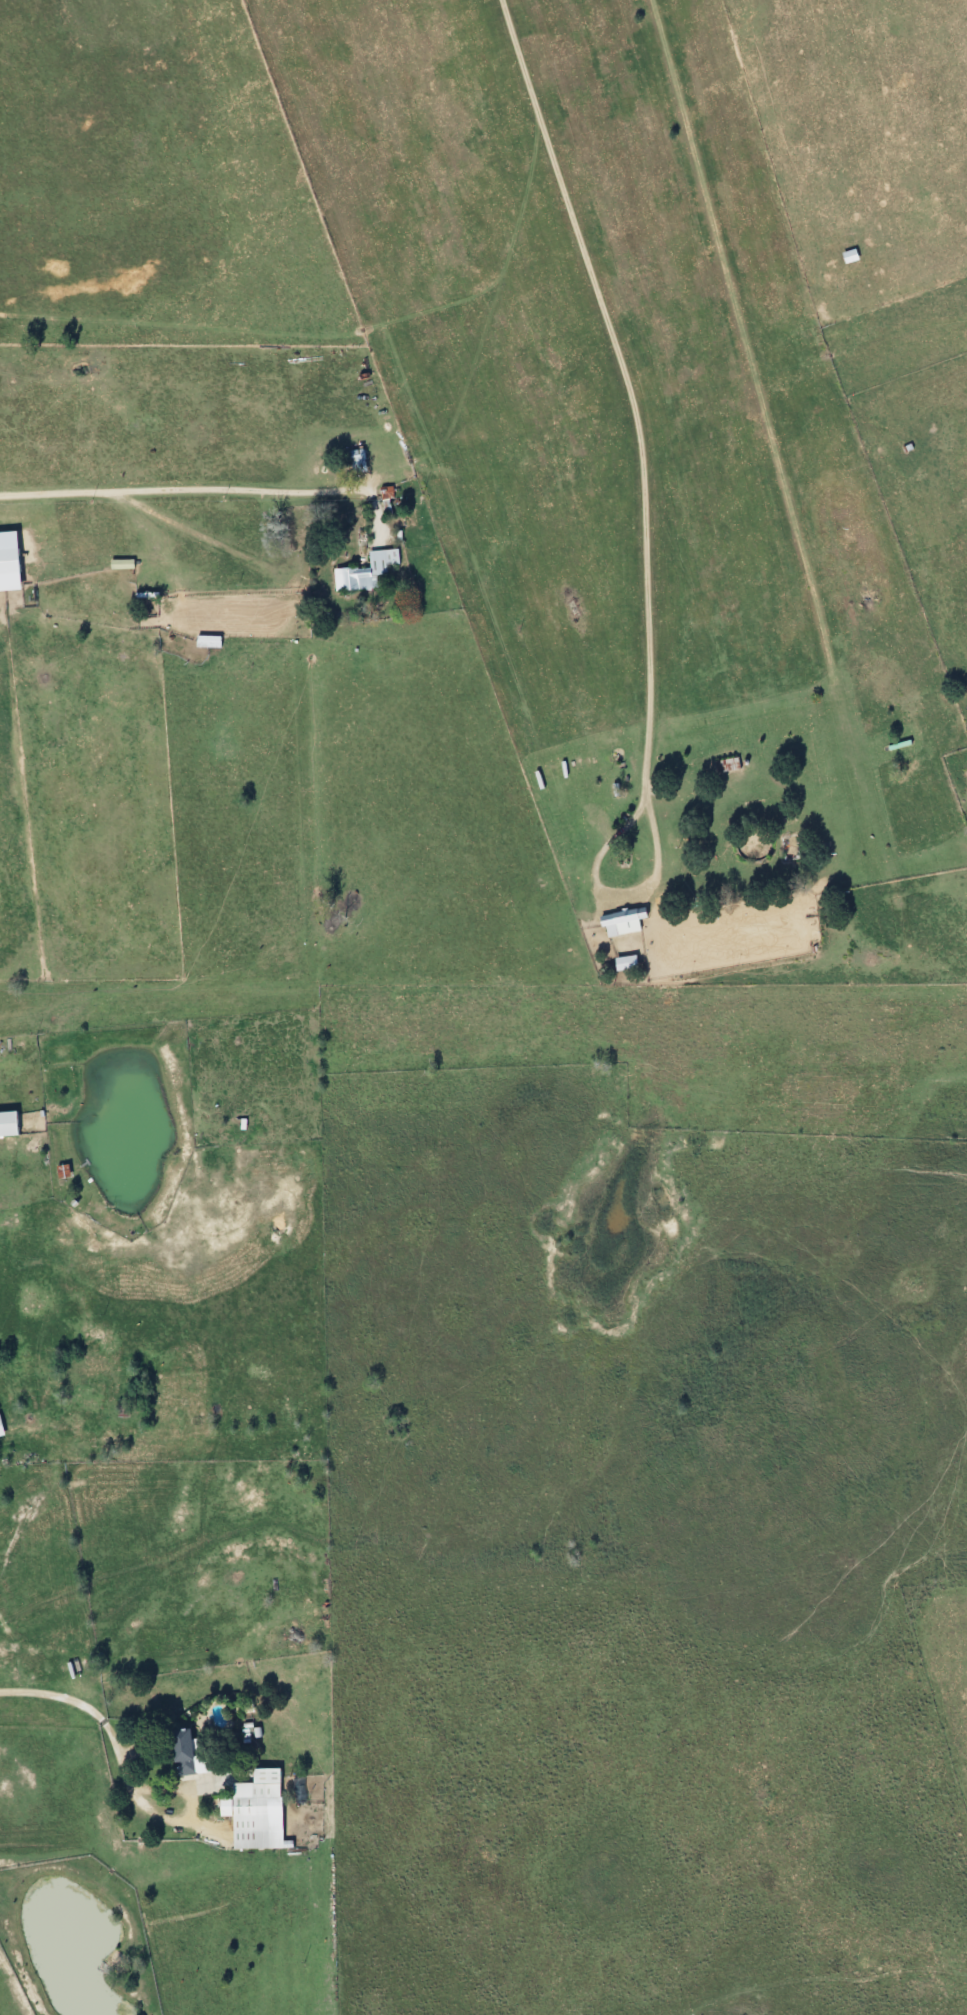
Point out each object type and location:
building: (845, 256)
road: (625, 385)
building: (353, 460)
road: (183, 489)
building: (362, 570)
building: (204, 640)
building: (79, 641)
building: (724, 764)
road: (612, 890)
building: (622, 921)
building: (619, 964)
building: (6, 1123)
road: (108, 1730)
building: (179, 1752)
building: (247, 1800)

